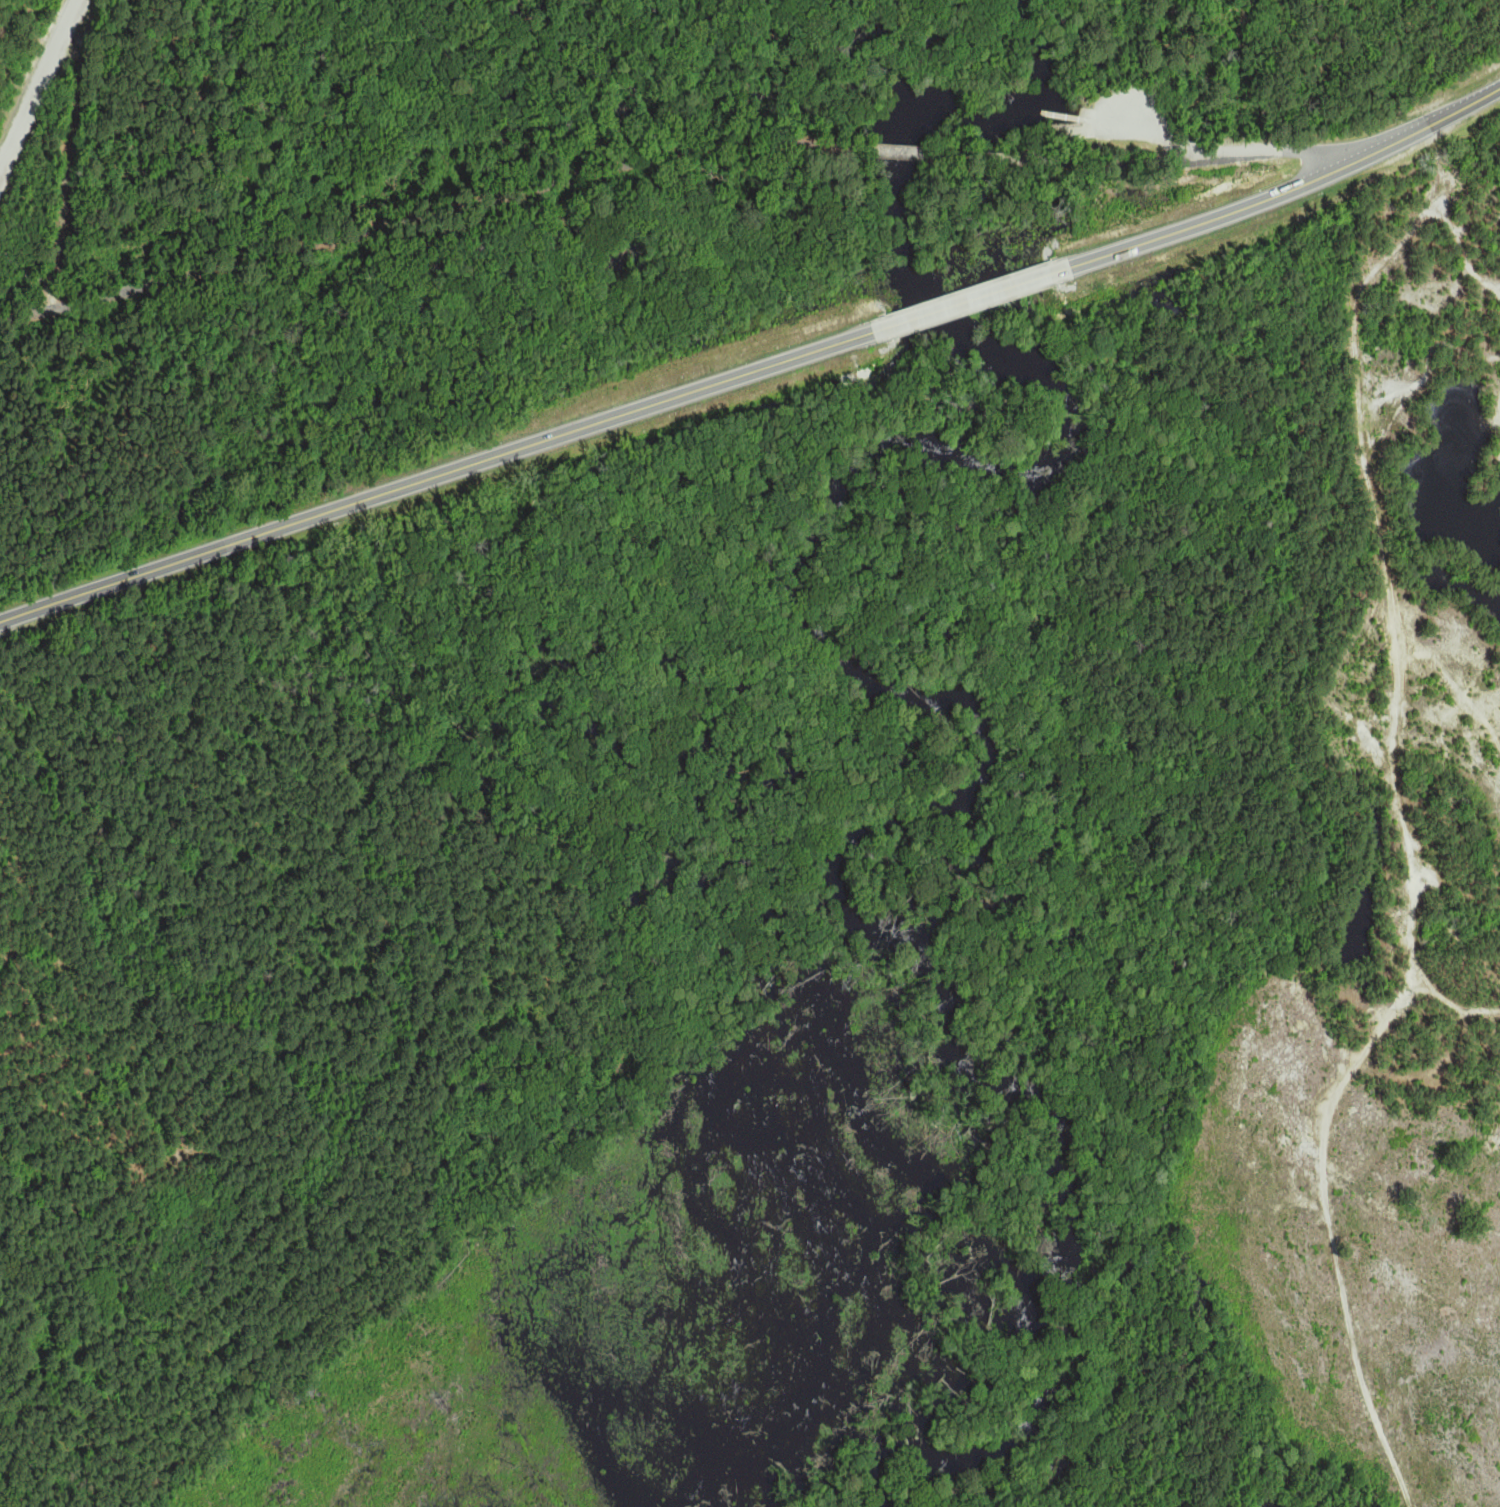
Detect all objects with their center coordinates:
road: (77, 1)
river: (1031, 37)
road: (38, 87)
parking lot: (1134, 113)
road: (1065, 116)
road: (1091, 117)
road: (1146, 128)
road: (70, 141)
road: (878, 149)
road: (1284, 150)
road: (971, 156)
road: (1132, 165)
road: (1289, 188)
road: (427, 212)
road: (25, 269)
park: (329, 276)
road: (52, 295)
road: (971, 299)
road: (436, 475)
river: (943, 691)

